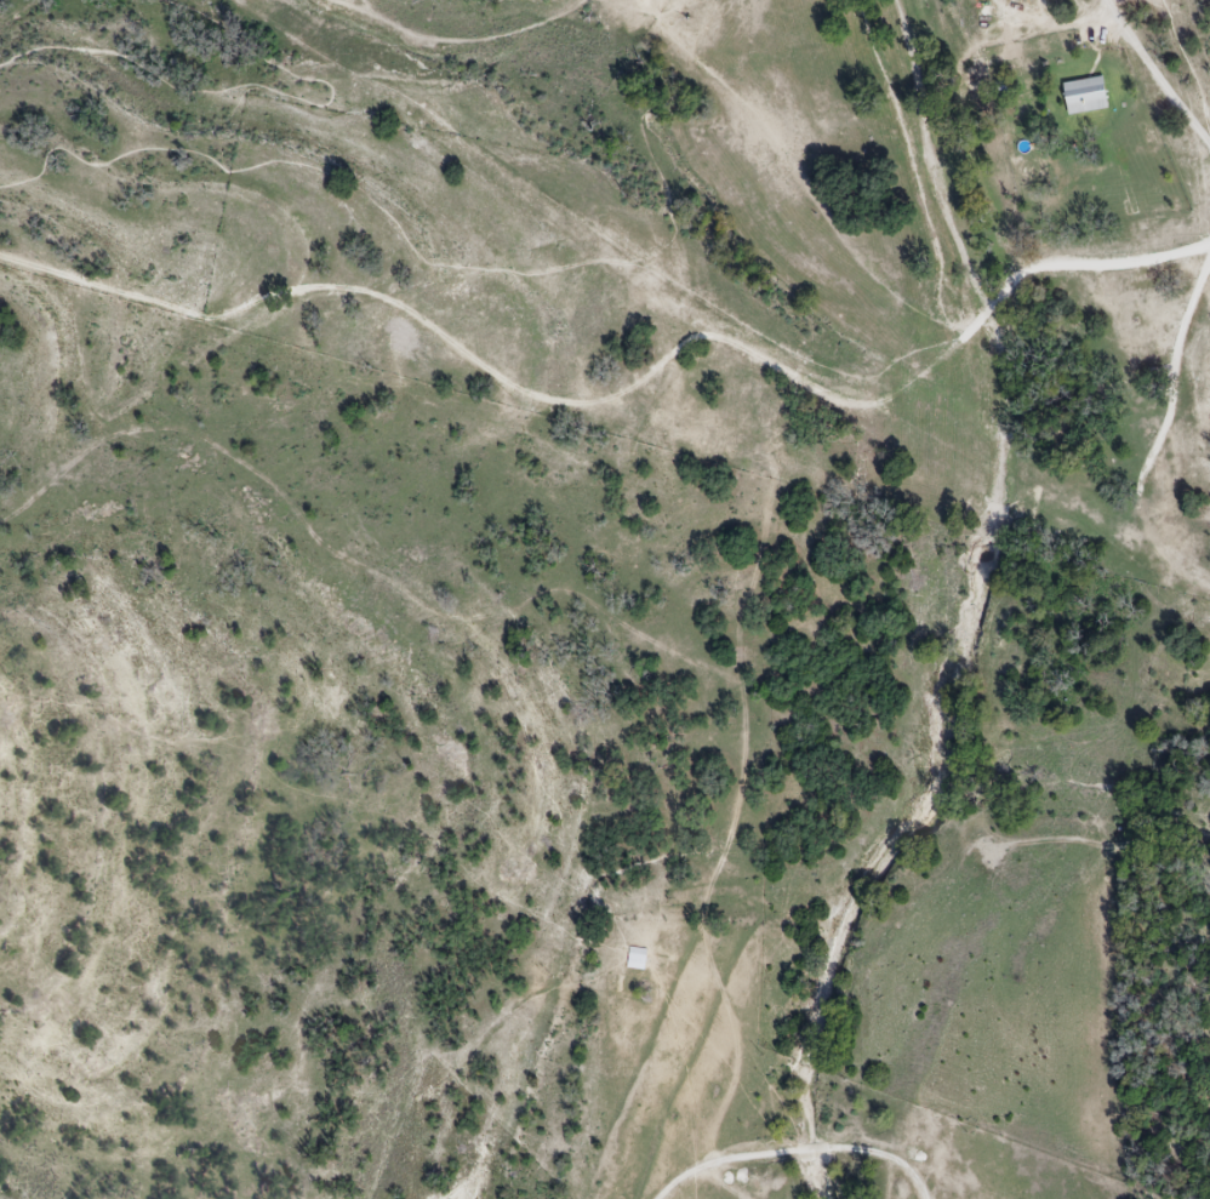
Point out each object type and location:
road: (1192, 69)
road: (1157, 73)
road: (252, 87)
building: (1100, 99)
road: (907, 164)
road: (797, 172)
road: (479, 267)
road: (460, 347)
road: (798, 1152)

